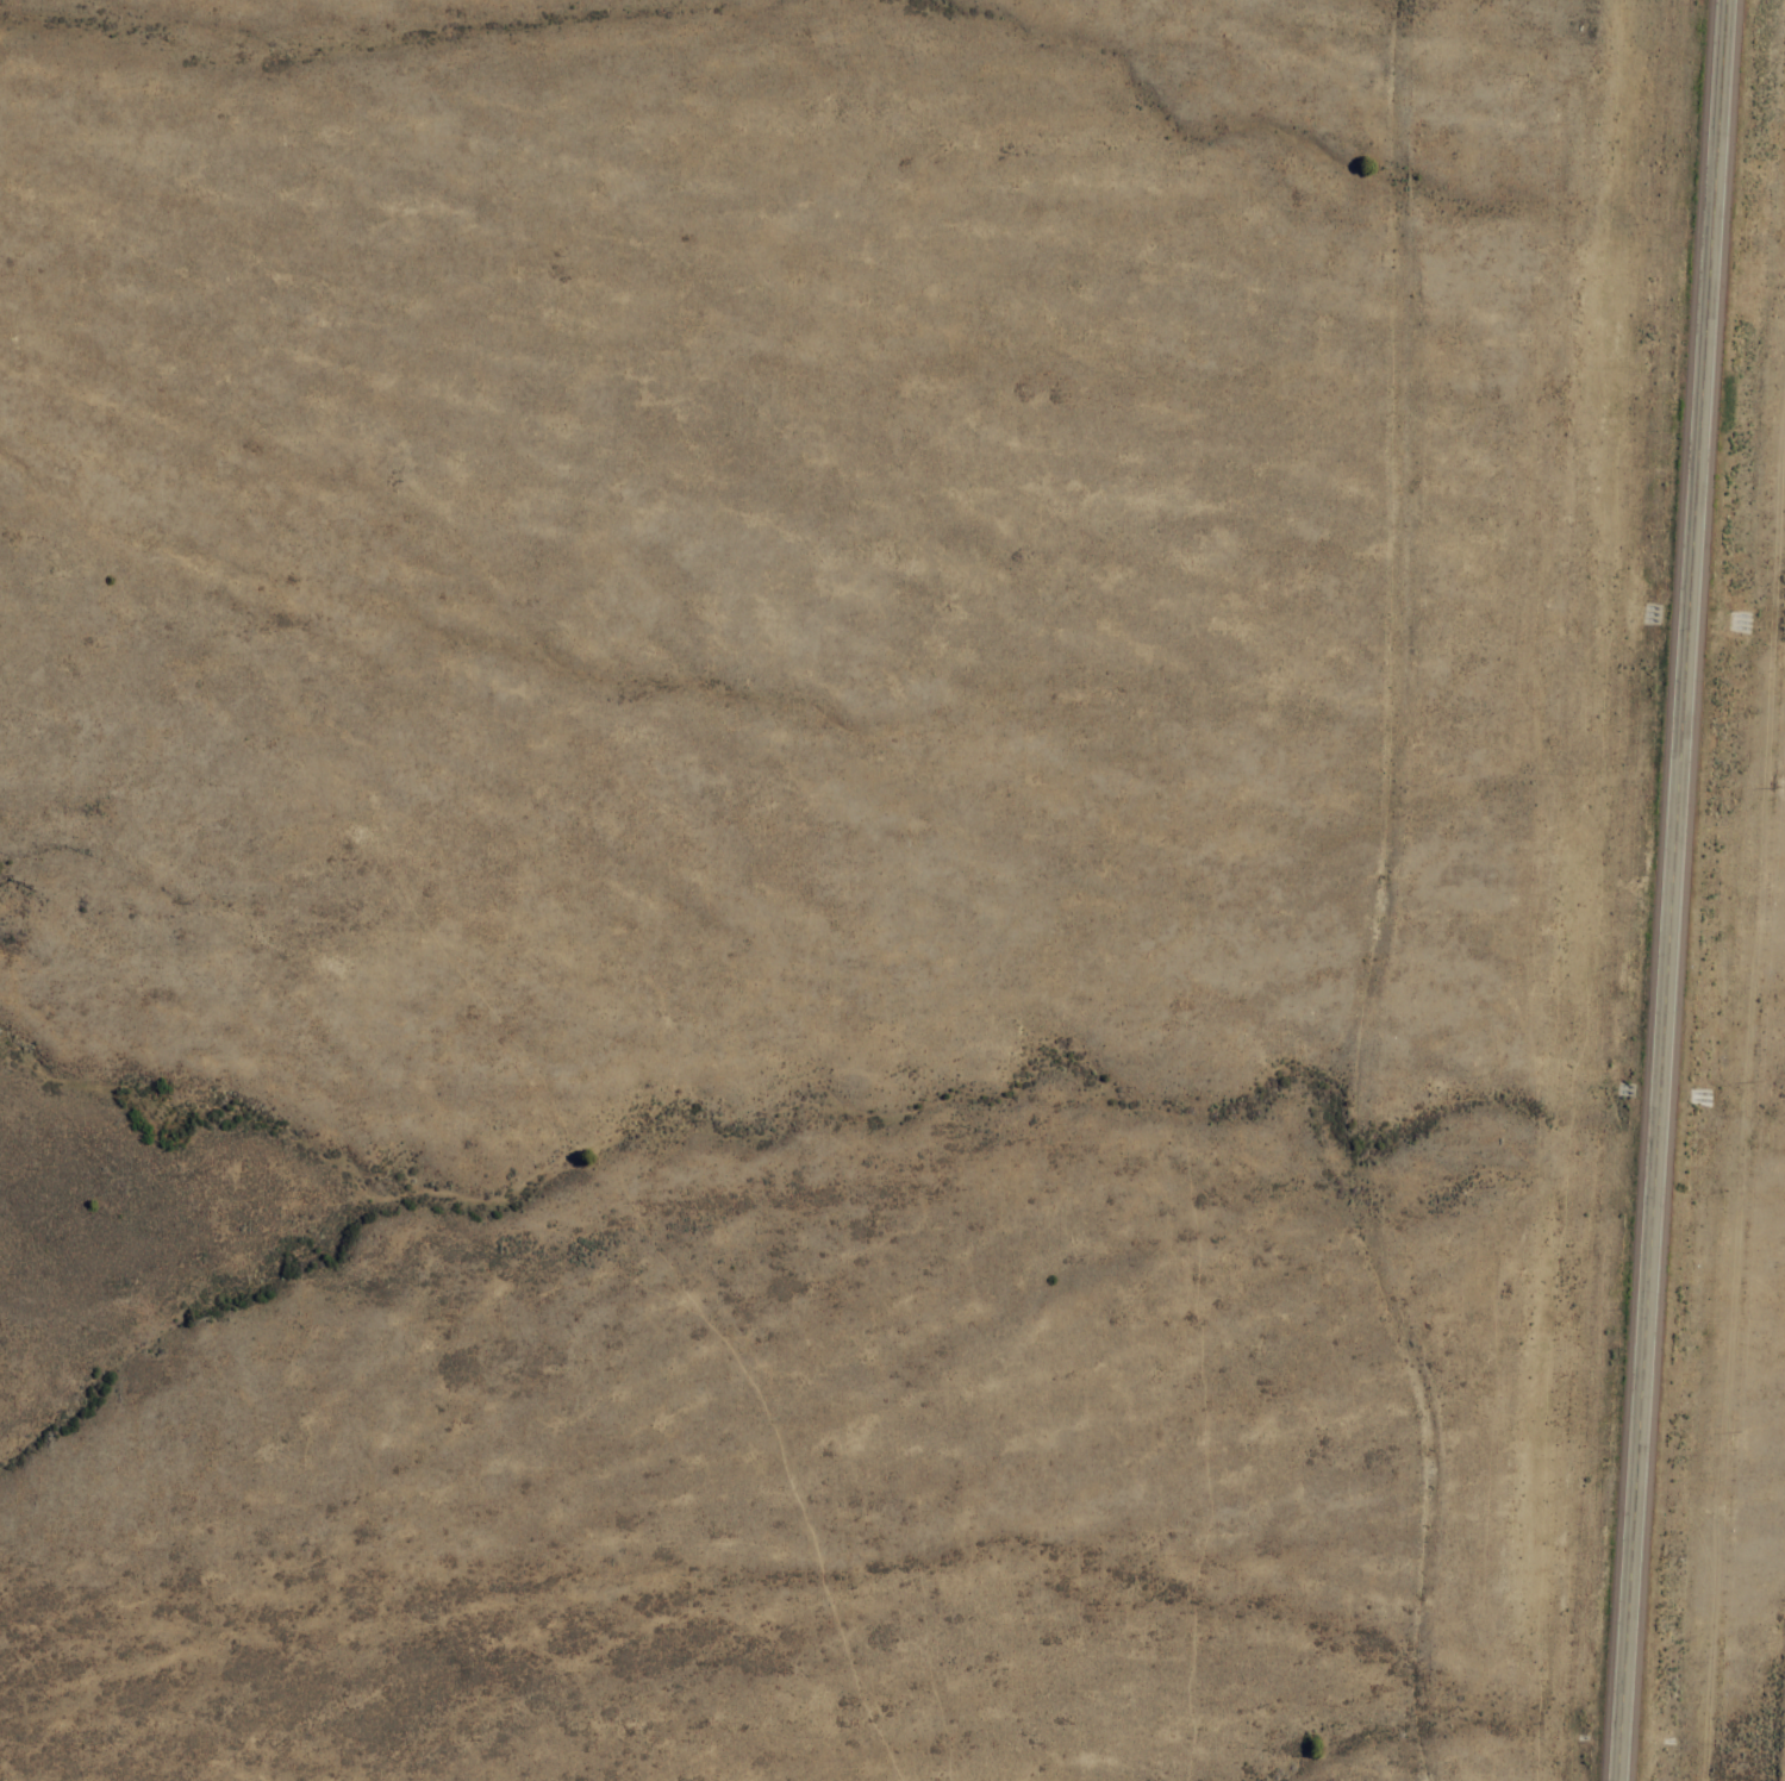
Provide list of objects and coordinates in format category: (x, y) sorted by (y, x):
road: (1672, 890)

